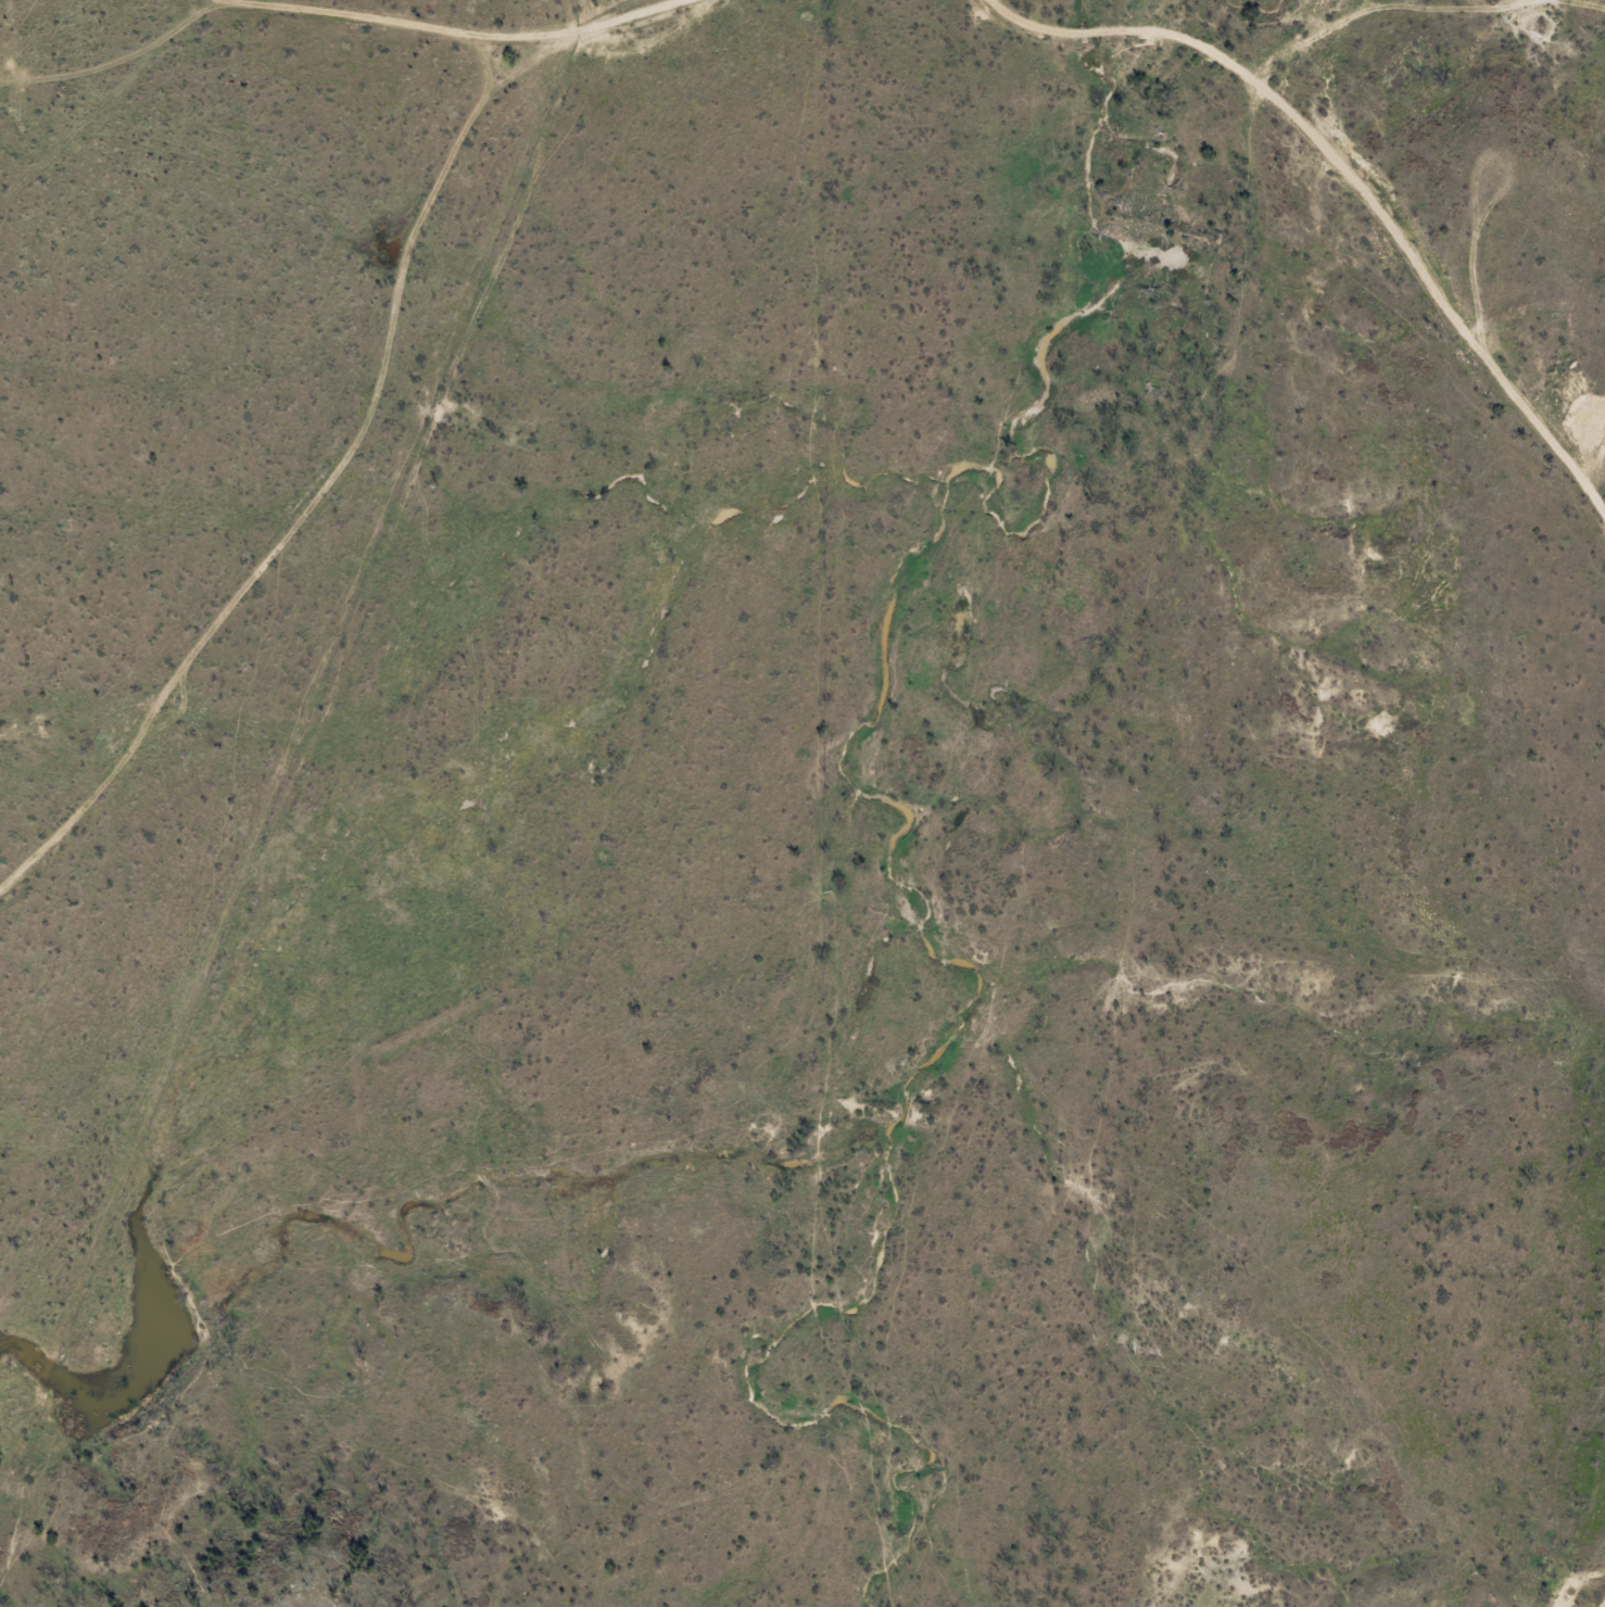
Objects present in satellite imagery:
road: (409, 20)
road: (1339, 217)
road: (349, 415)
road: (540, 593)

